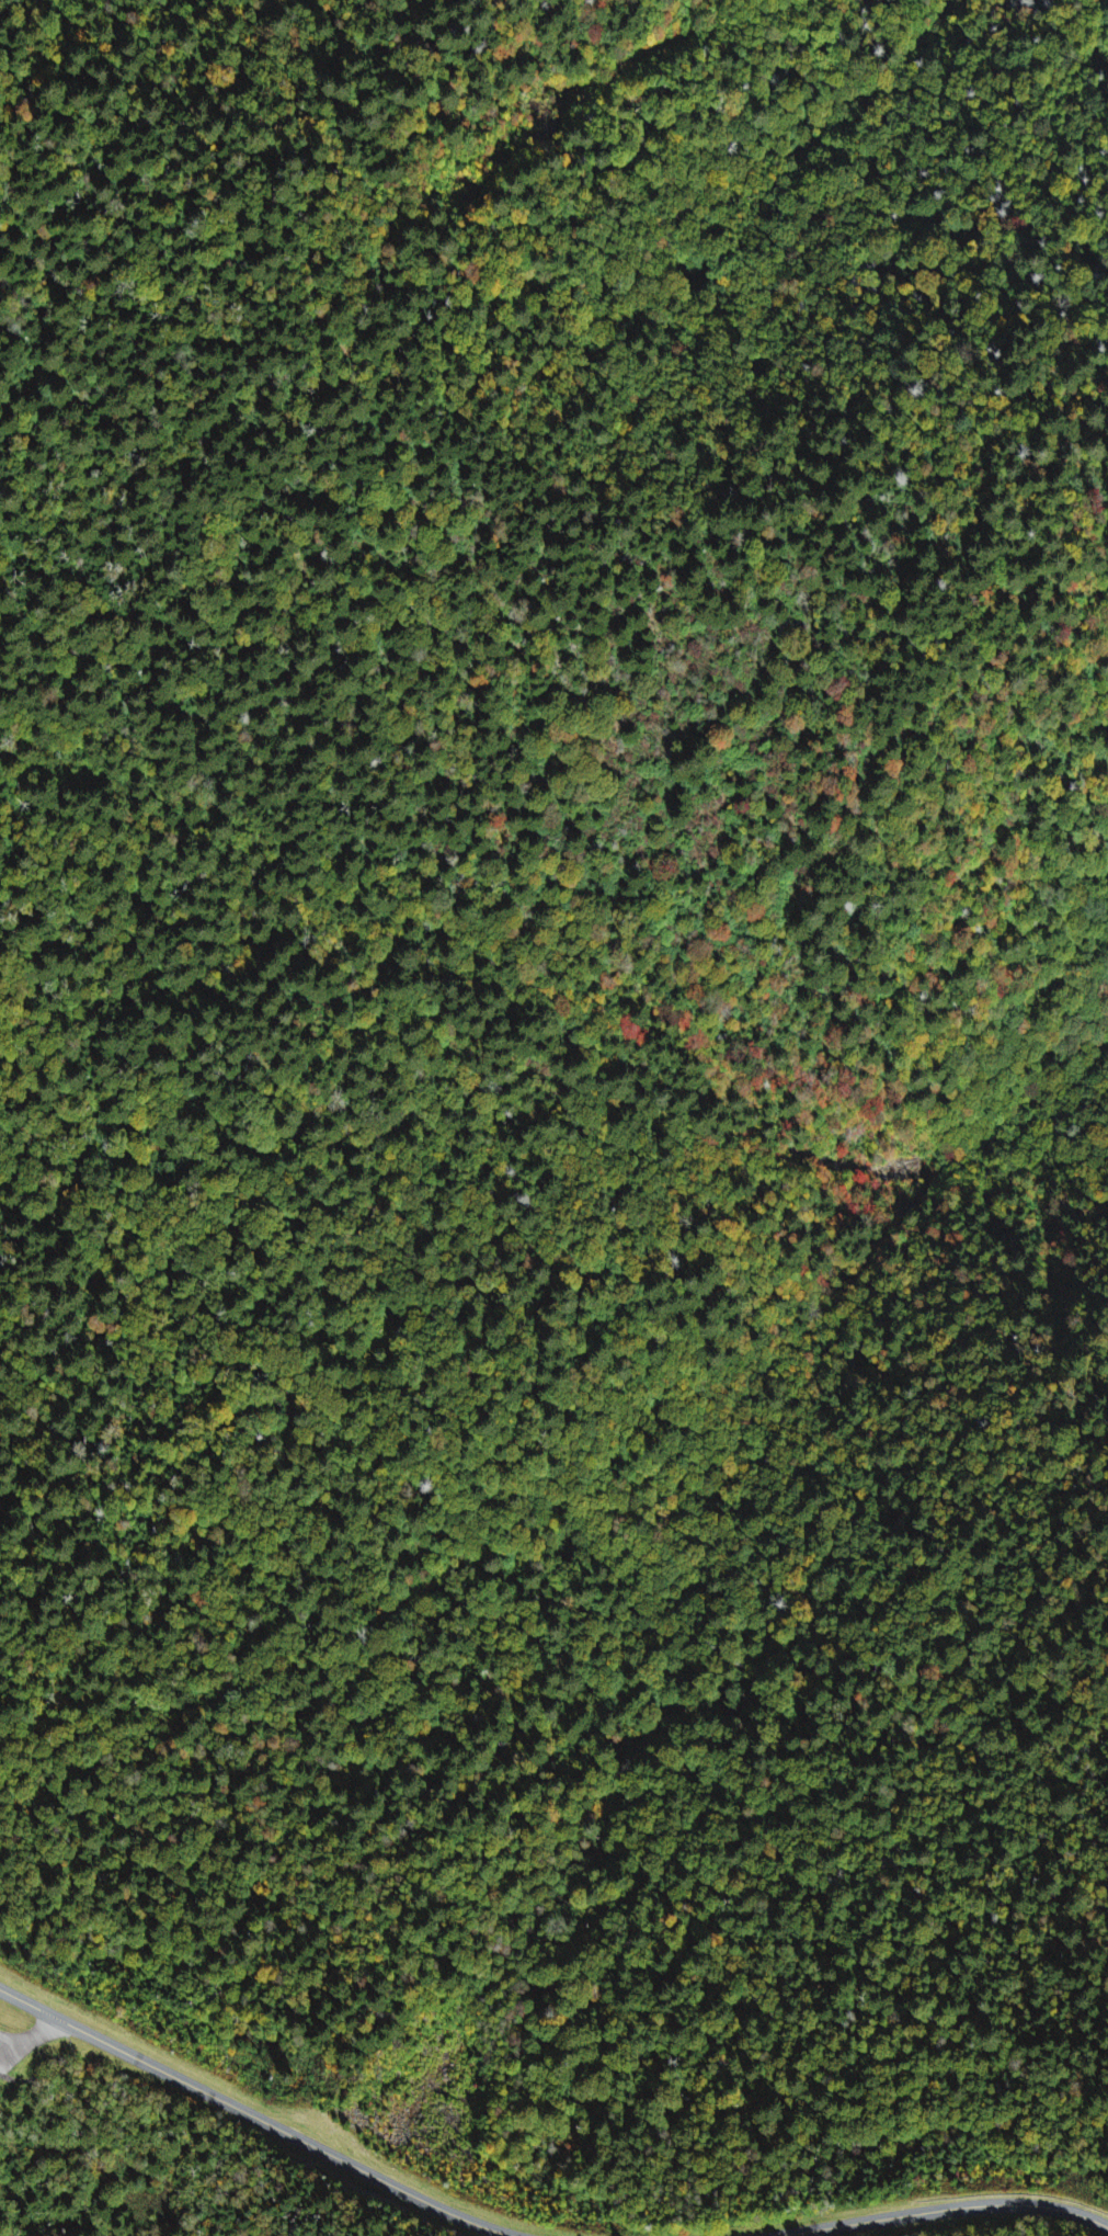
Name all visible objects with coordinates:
road: (32, 2036)
road: (249, 2116)
road: (926, 2212)

